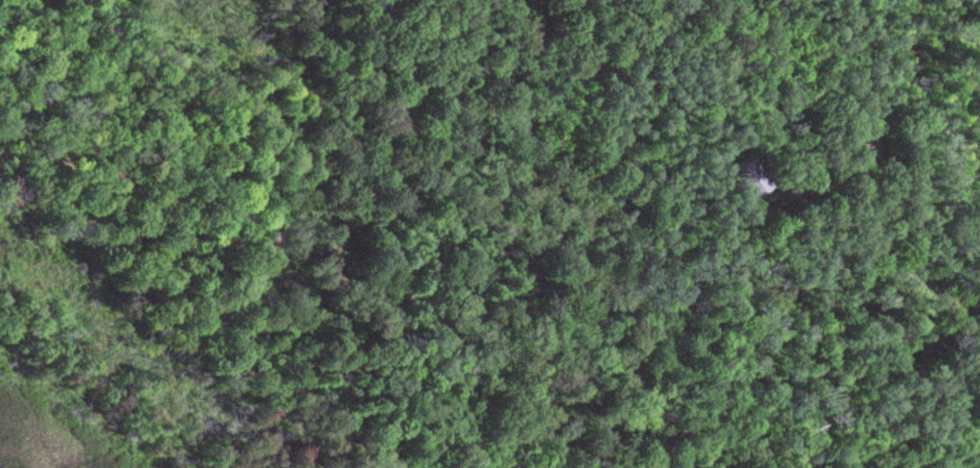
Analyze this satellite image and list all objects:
road: (879, 140)

